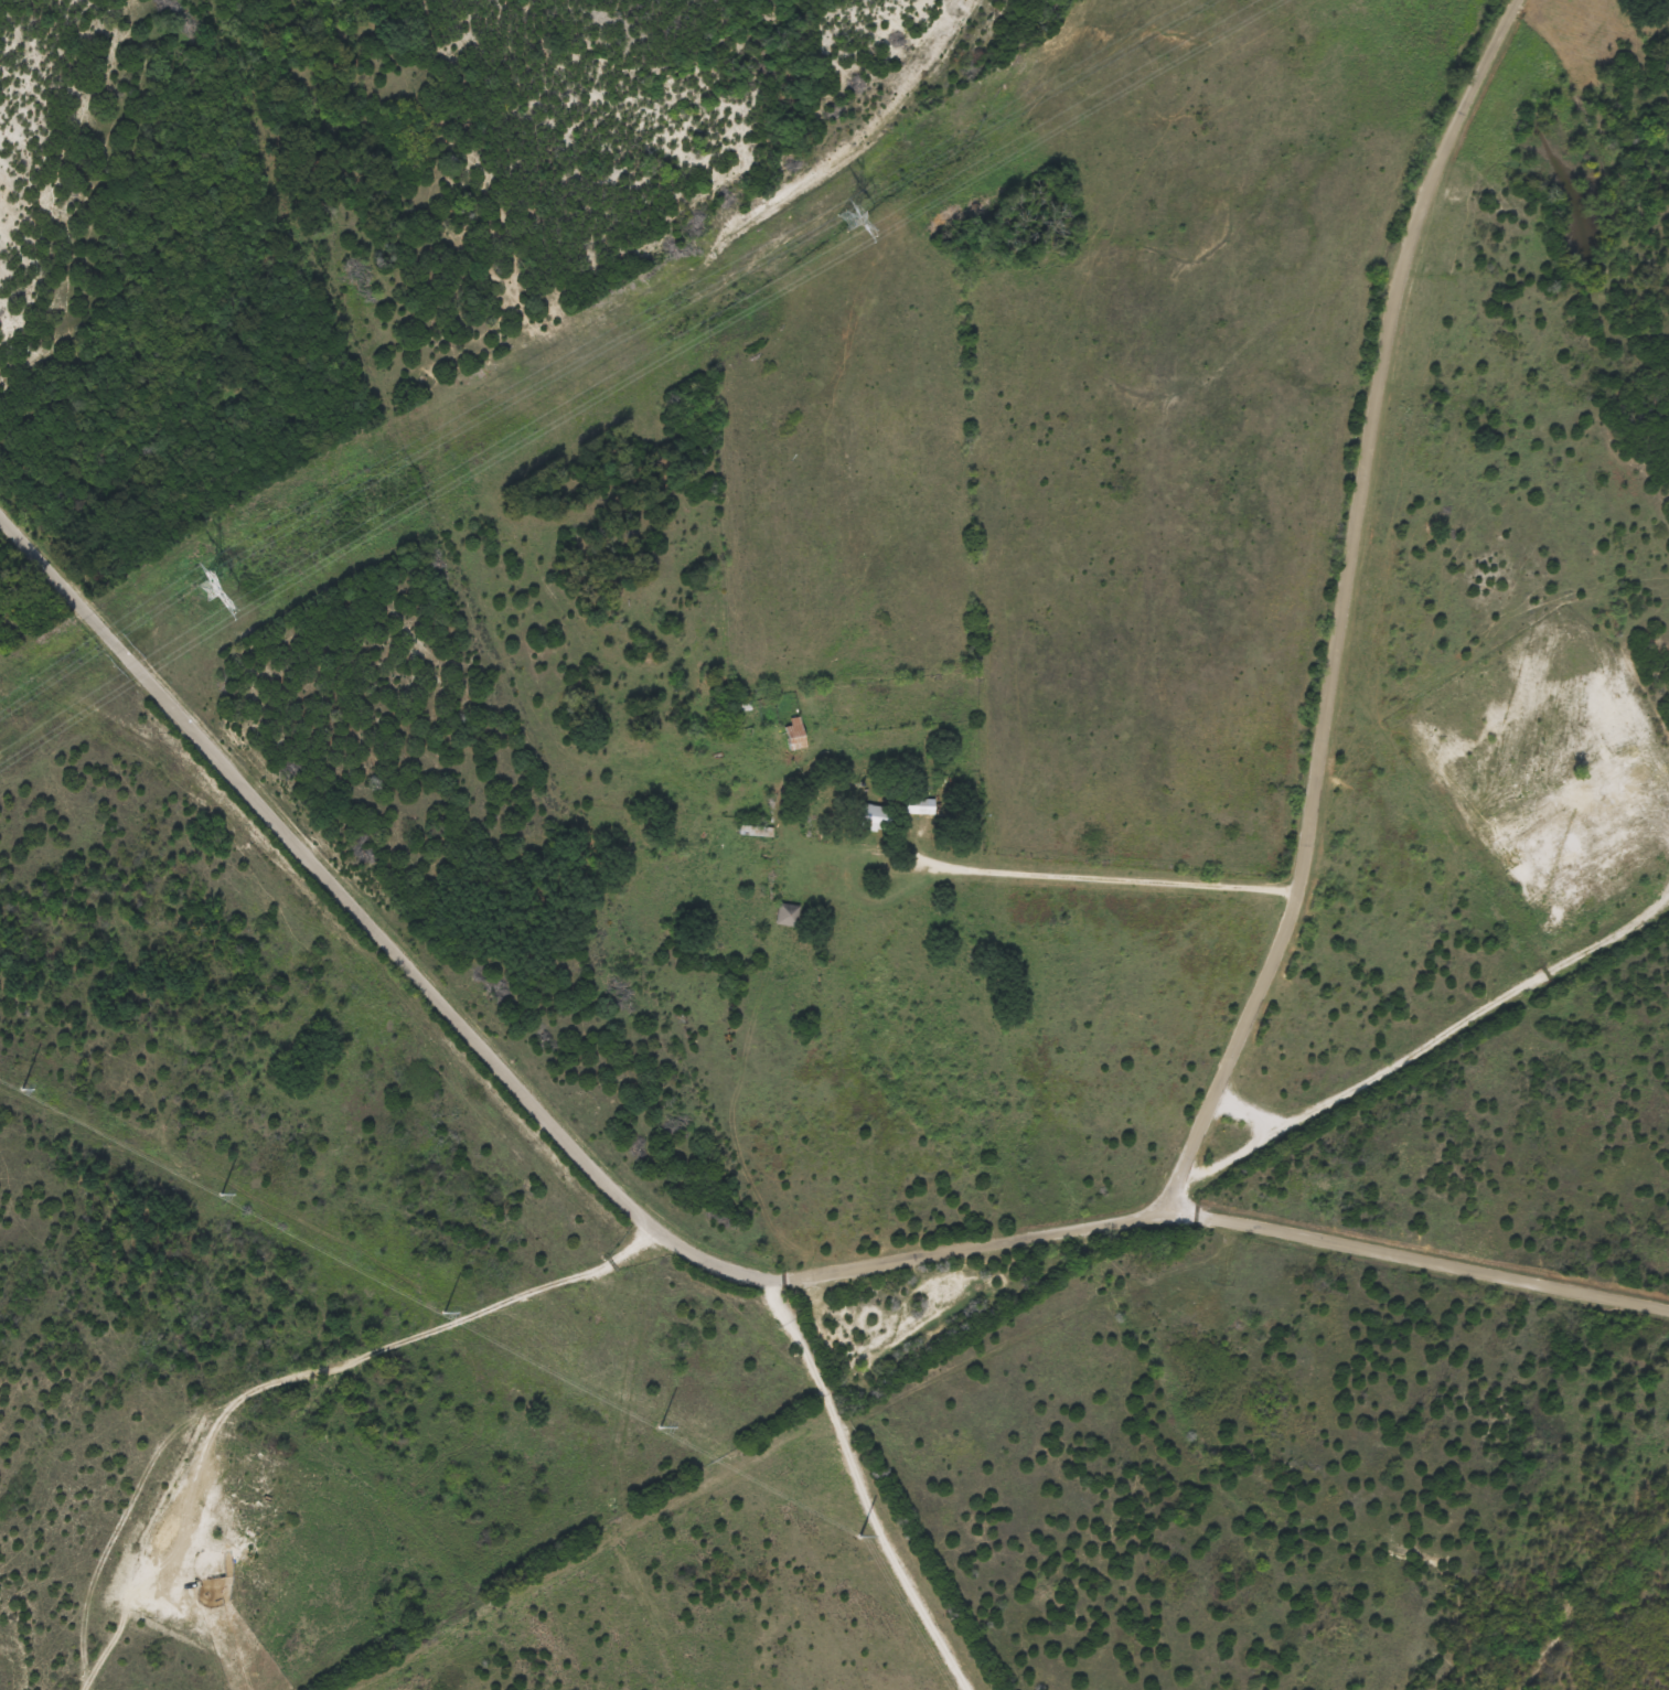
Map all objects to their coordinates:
power tower: (850, 222)
road: (440, 478)
power tower: (210, 593)
road: (1347, 609)
building: (798, 736)
building: (924, 806)
building: (881, 819)
road: (1116, 883)
road: (330, 890)
building: (790, 916)
road: (1166, 1217)
road: (500, 1313)
road: (245, 1533)

